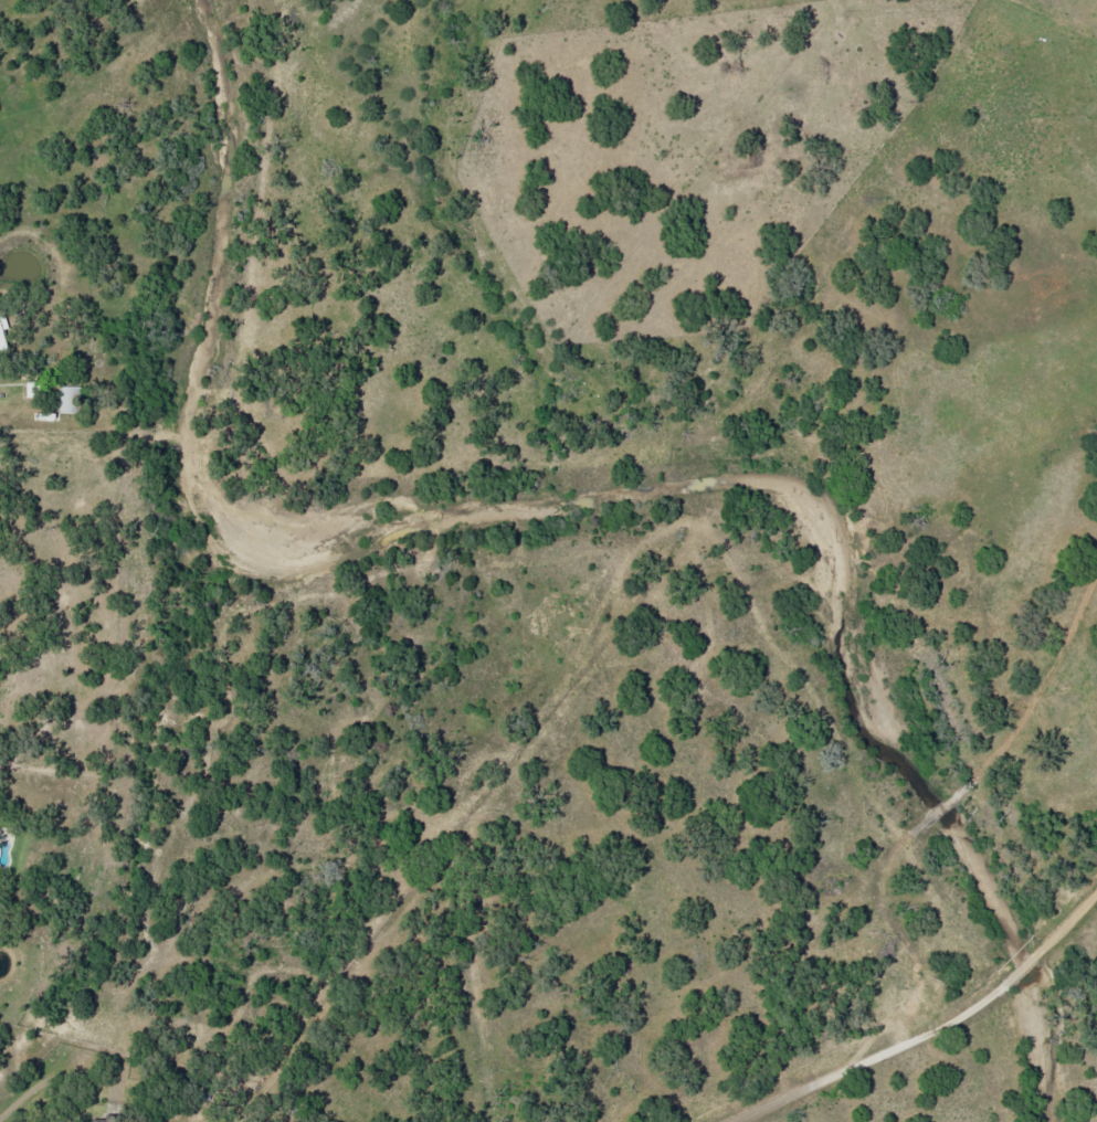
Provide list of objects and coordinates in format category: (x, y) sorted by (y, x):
building: (2, 334)
building: (70, 399)
road: (725, 796)
road: (1073, 924)
road: (1026, 972)
road: (871, 1058)
building: (96, 1121)

